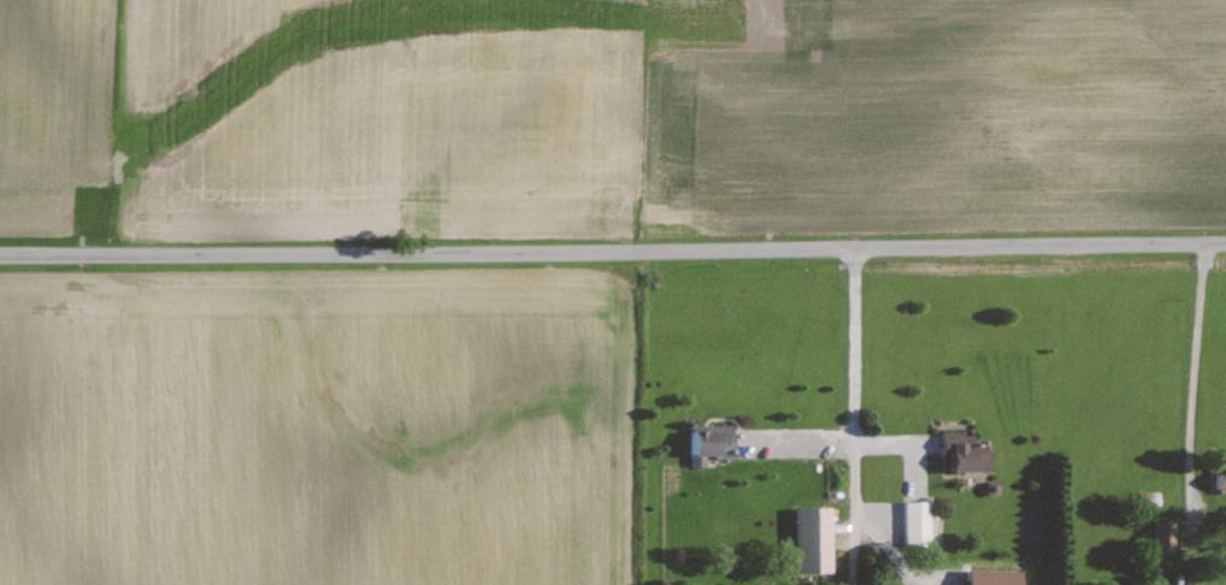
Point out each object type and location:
road: (613, 250)
road: (1193, 379)
road: (853, 415)
building: (697, 441)
road: (802, 441)
building: (956, 454)
building: (1216, 480)
building: (909, 522)
building: (1157, 536)
building: (804, 539)
building: (984, 578)

